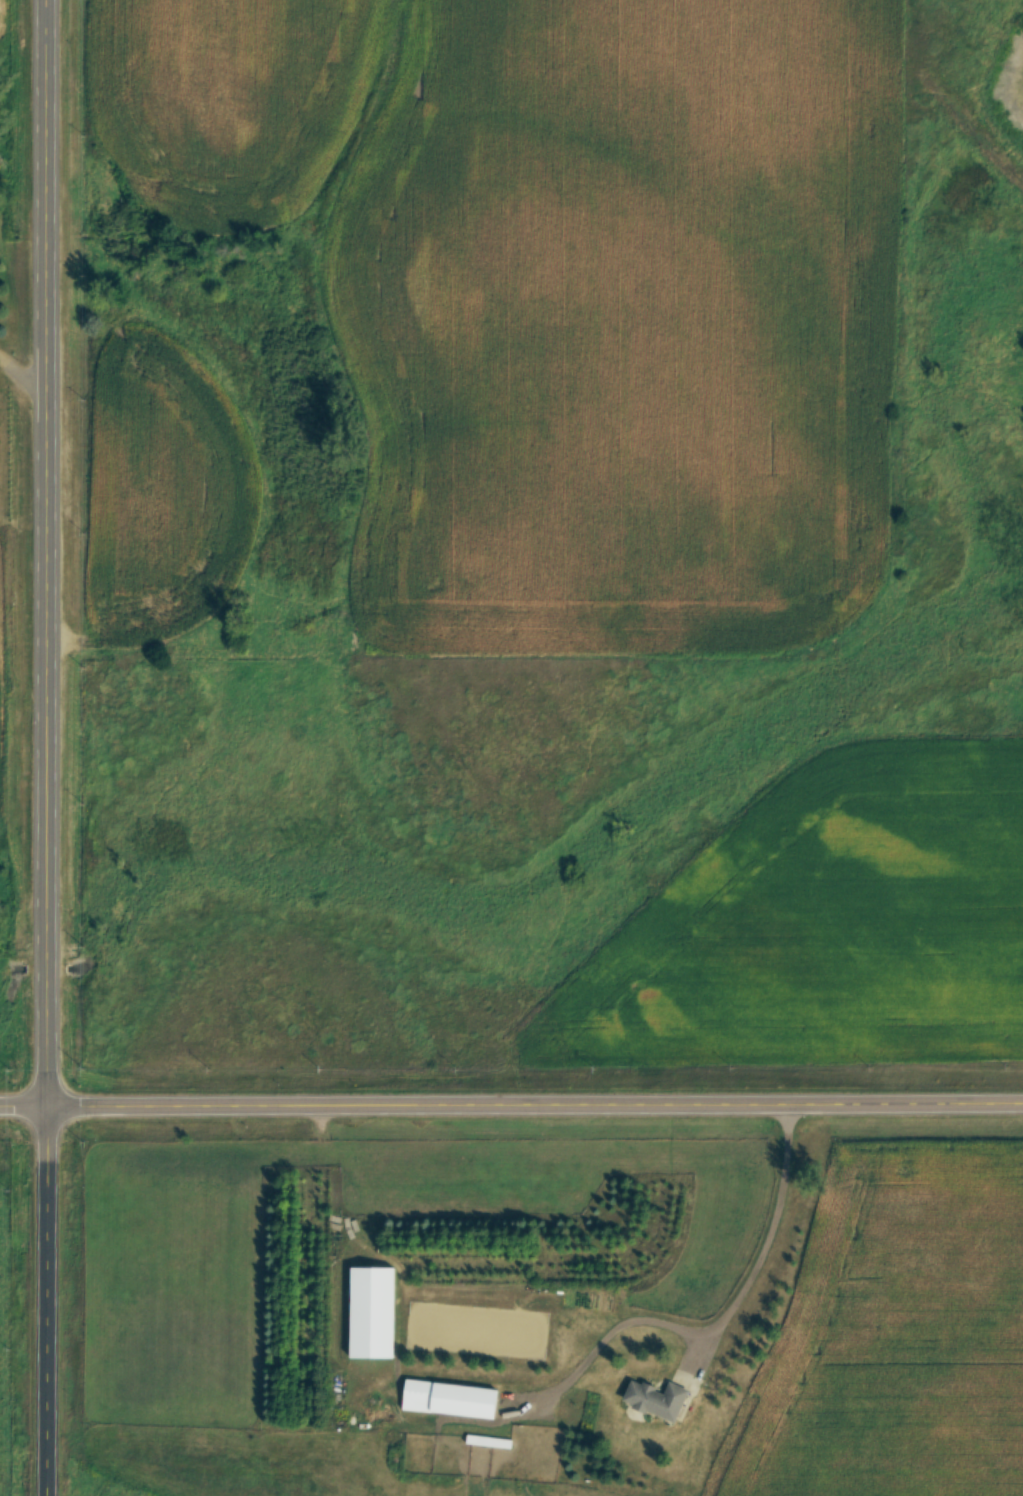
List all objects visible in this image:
road: (27, 381)
road: (55, 747)
road: (511, 1103)
road: (767, 1243)
building: (373, 1311)
building: (450, 1398)
building: (659, 1399)

